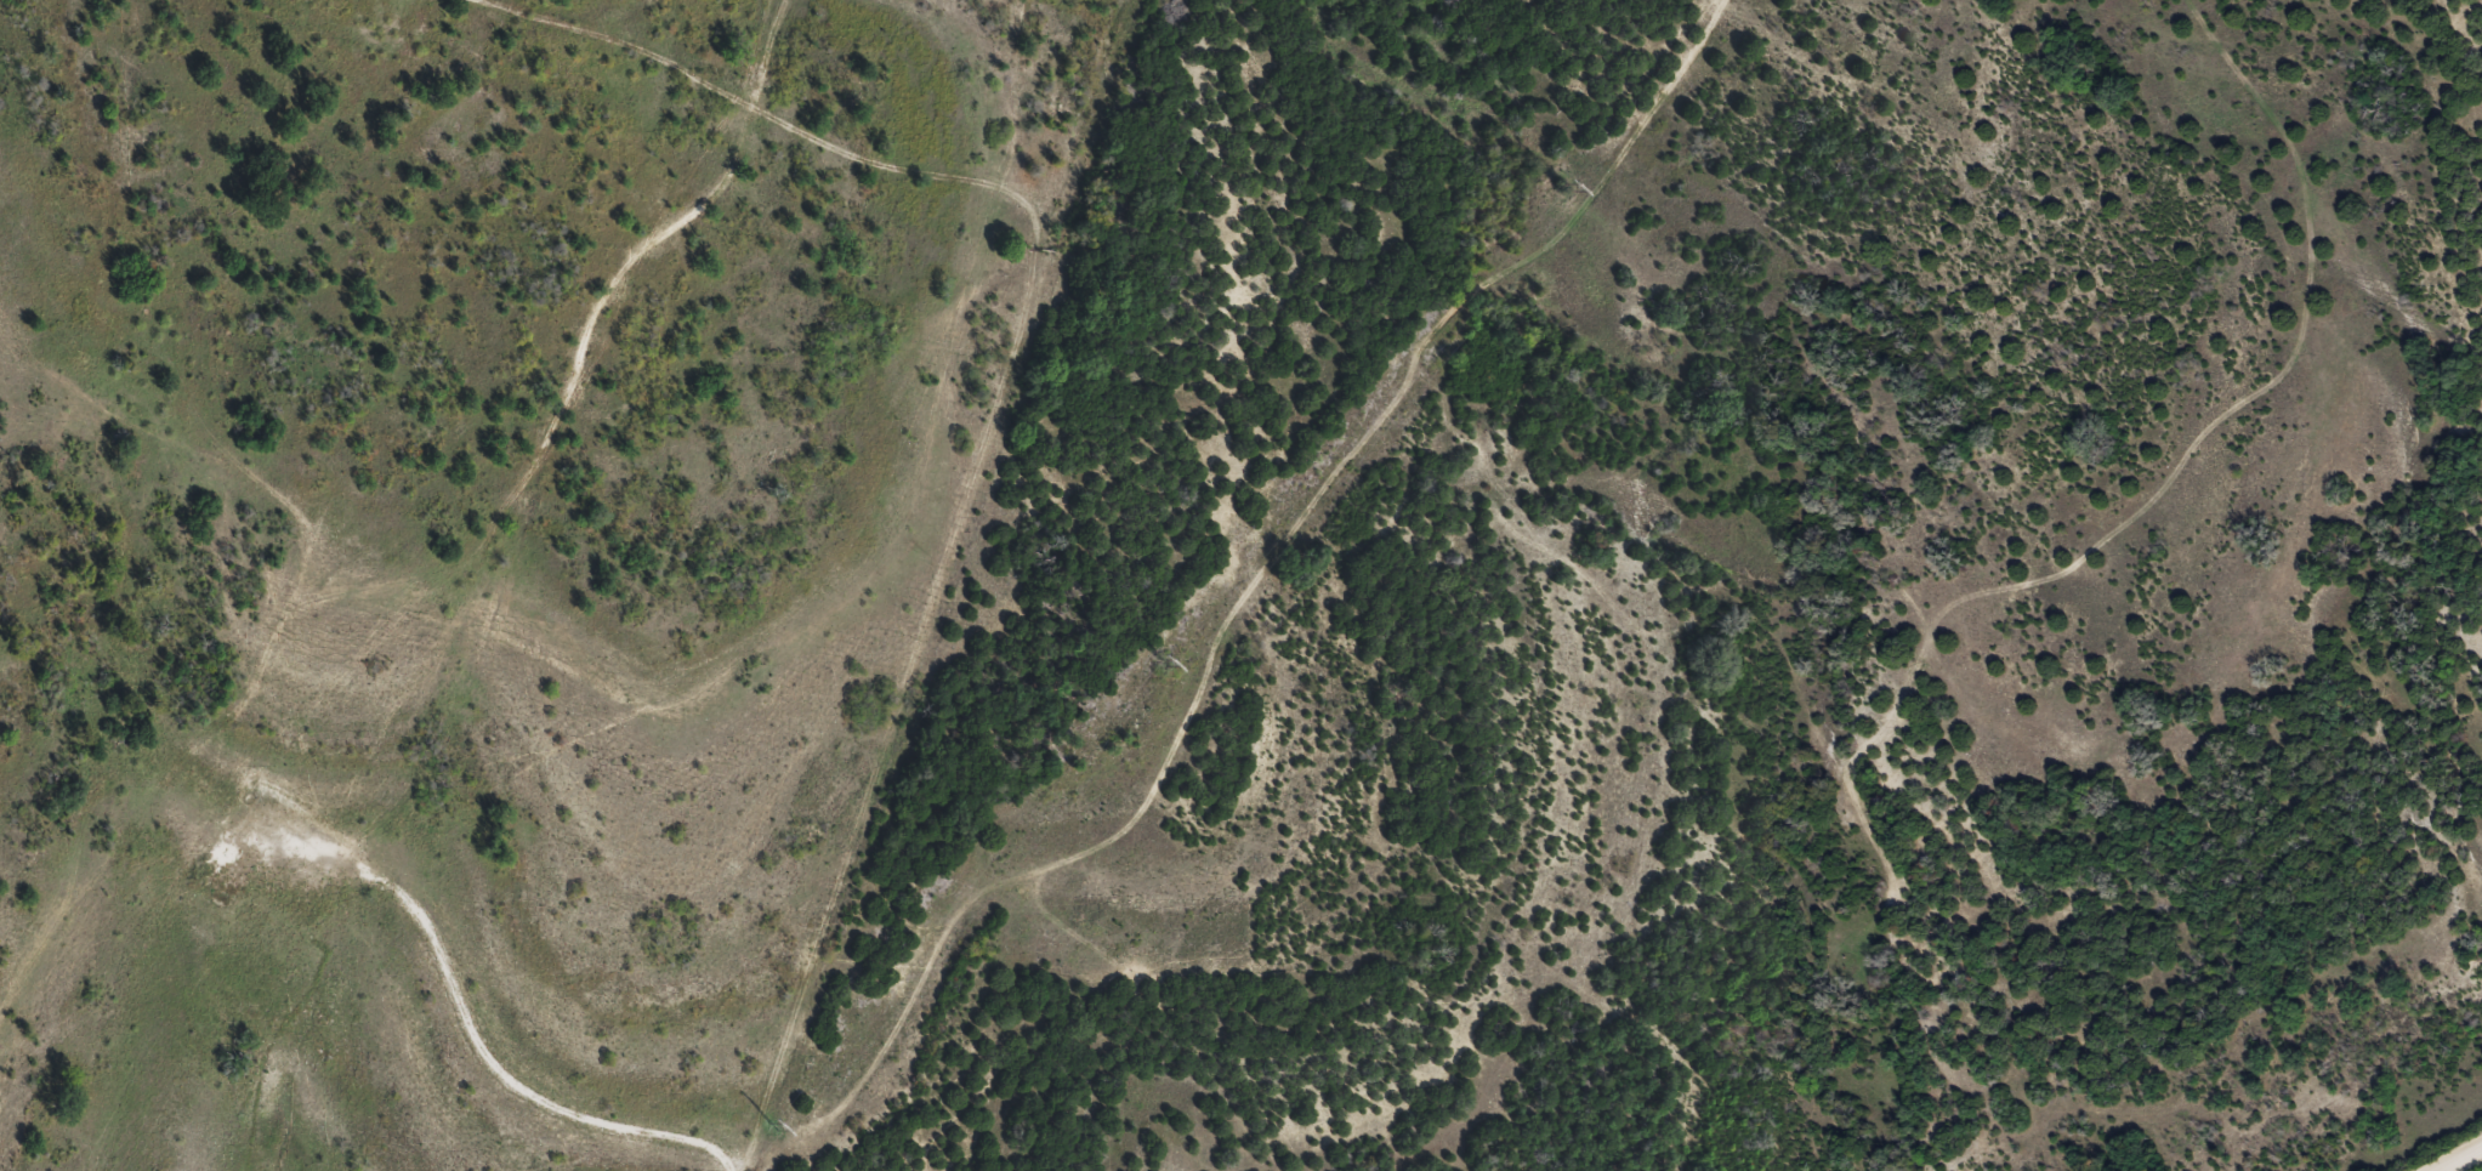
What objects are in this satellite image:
power tower: (1561, 187)
road: (410, 597)
power tower: (1162, 663)
power tower: (772, 1127)
road: (2454, 1156)

